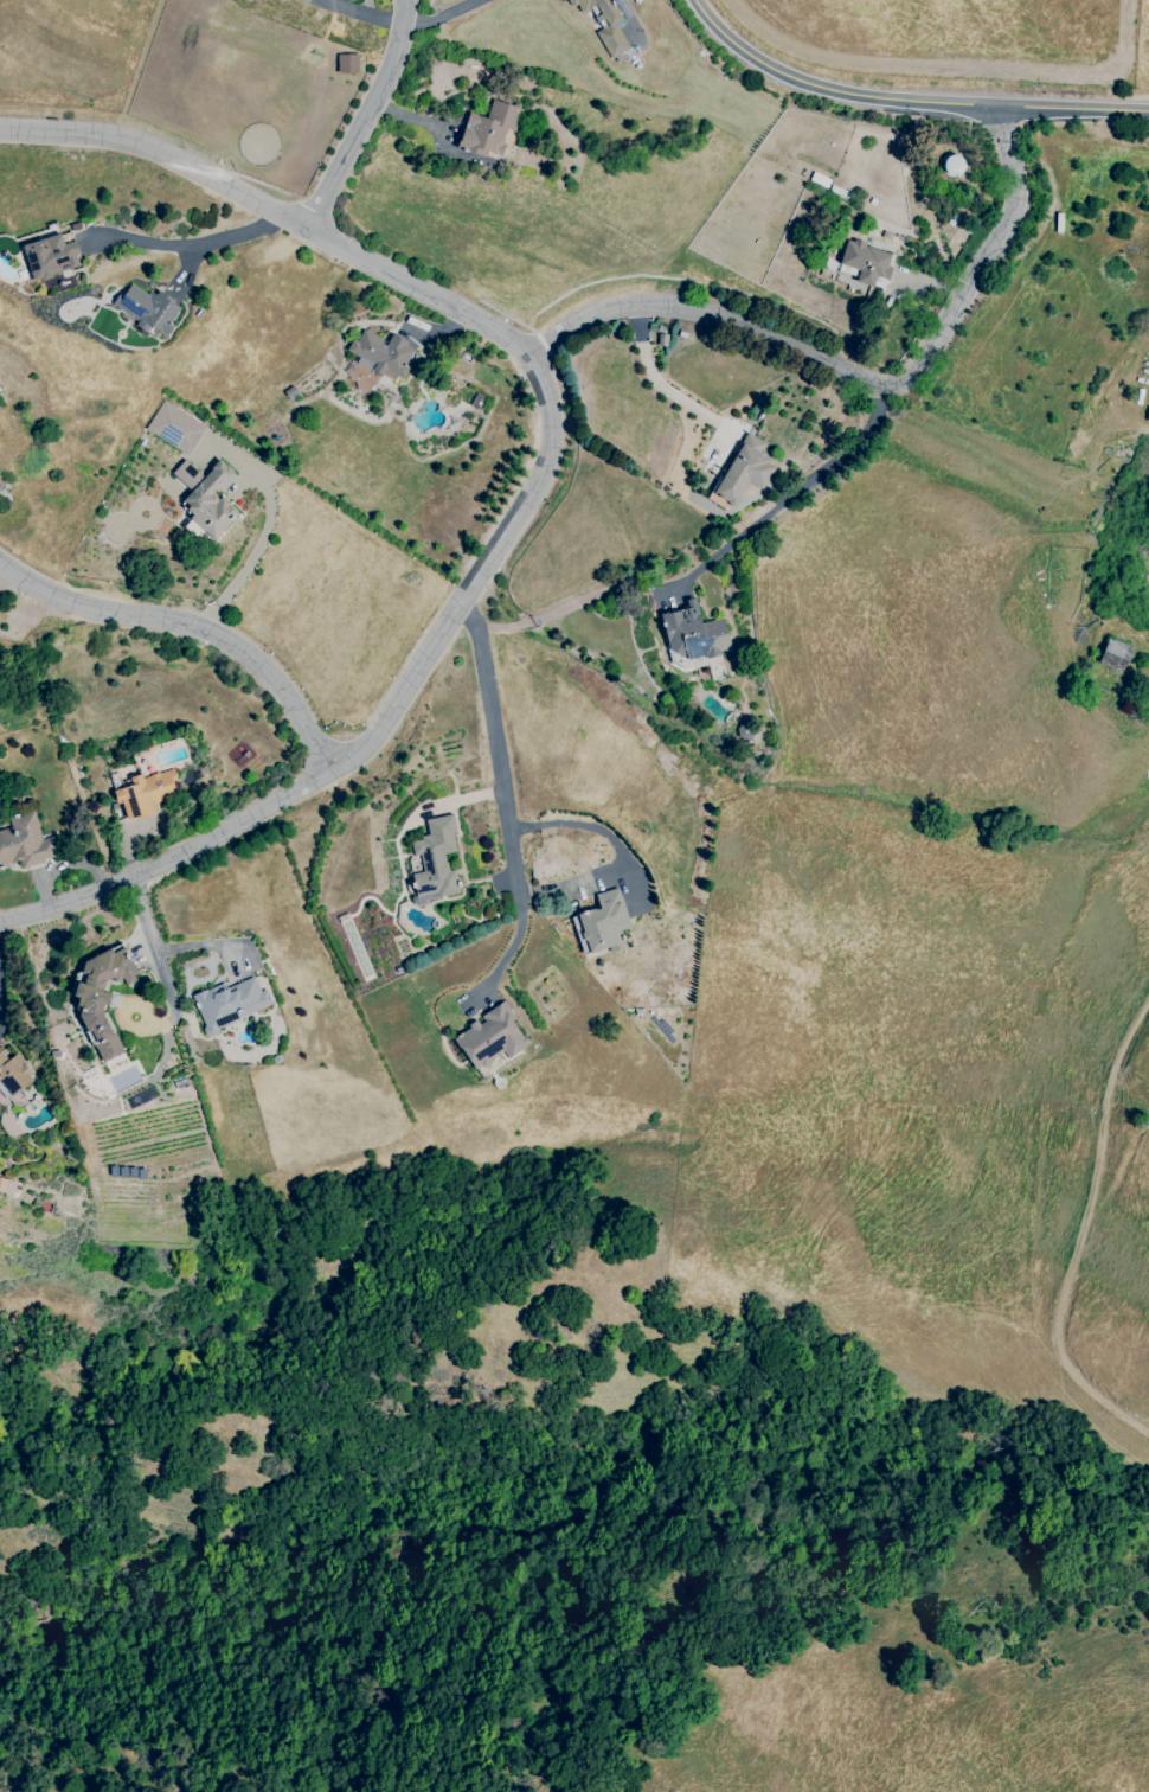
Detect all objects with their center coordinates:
road: (354, 14)
road: (441, 15)
building: (614, 25)
building: (347, 64)
road: (907, 100)
road: (362, 116)
building: (489, 129)
road: (192, 247)
road: (976, 256)
building: (50, 257)
building: (861, 265)
road: (710, 318)
road: (492, 327)
building: (377, 359)
building: (1148, 415)
building: (174, 428)
building: (745, 469)
building: (206, 497)
road: (715, 559)
road: (191, 627)
building: (1115, 655)
road: (499, 757)
building: (146, 794)
road: (589, 826)
building: (24, 841)
road: (172, 860)
building: (435, 862)
building: (620, 884)
building: (599, 923)
road: (152, 947)
building: (101, 997)
building: (230, 1003)
building: (490, 1037)
building: (13, 1074)
building: (6, 1185)

